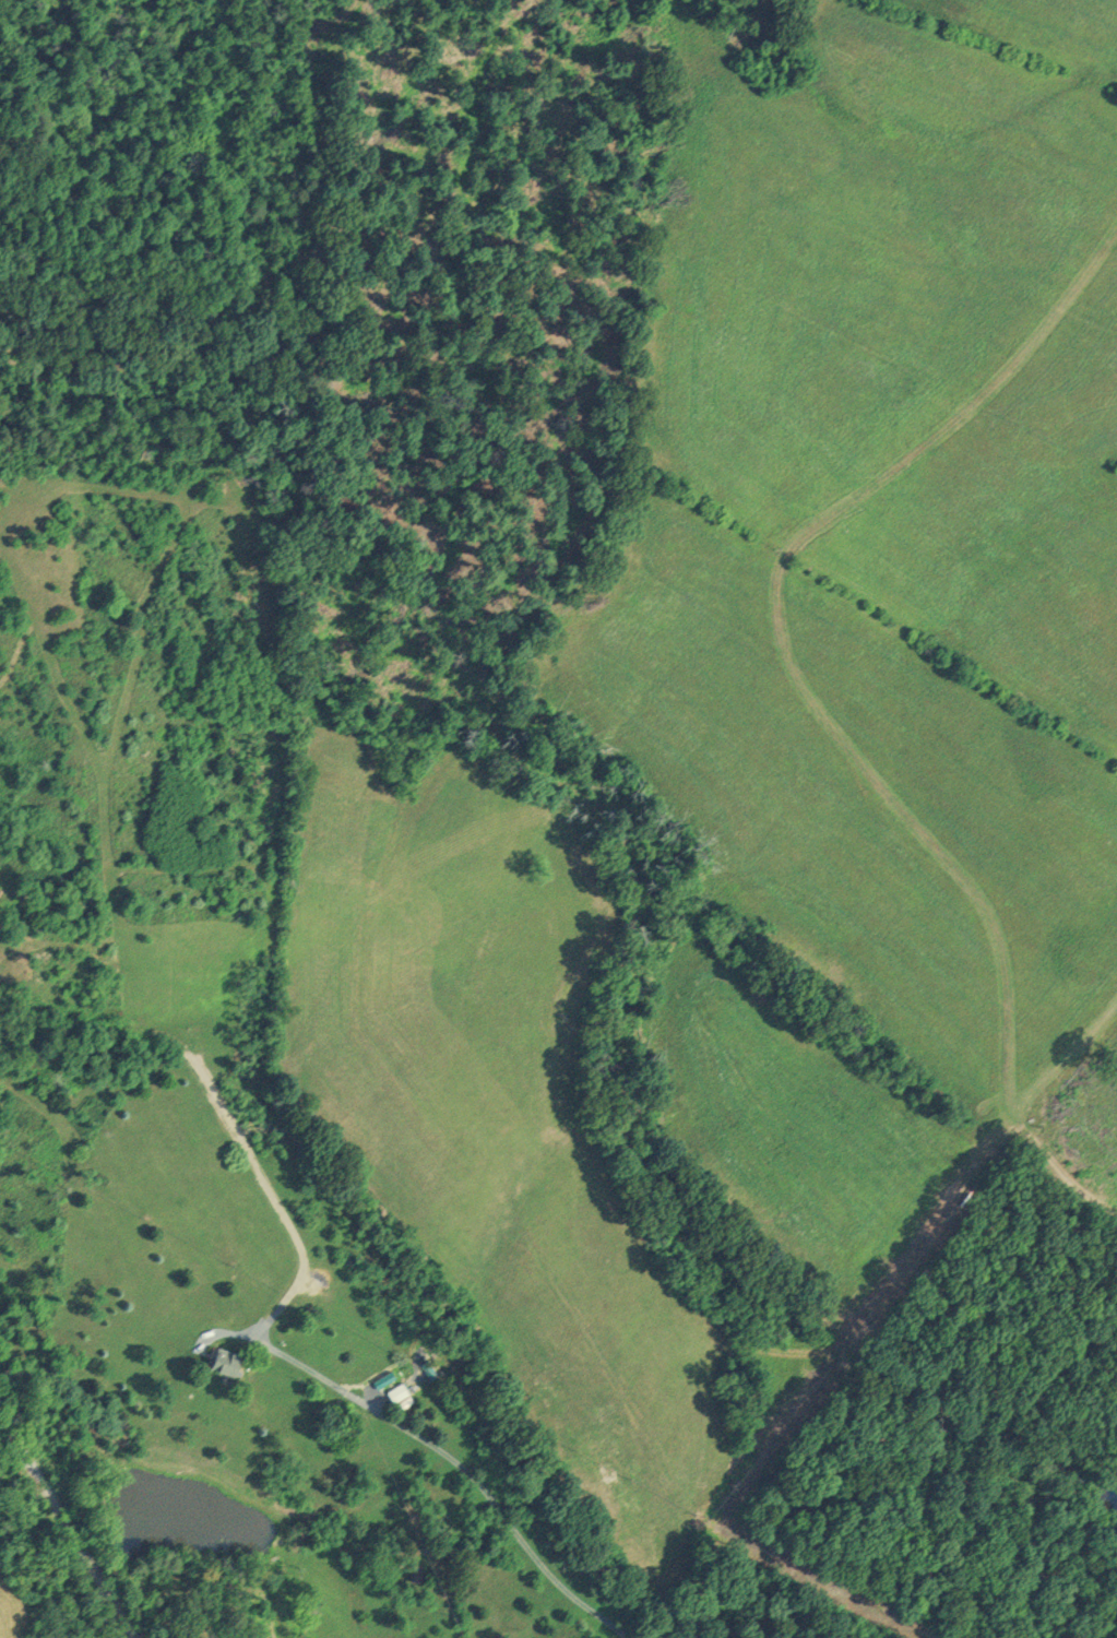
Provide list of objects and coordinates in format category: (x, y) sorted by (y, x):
building: (395, 1392)
road: (70, 1531)

